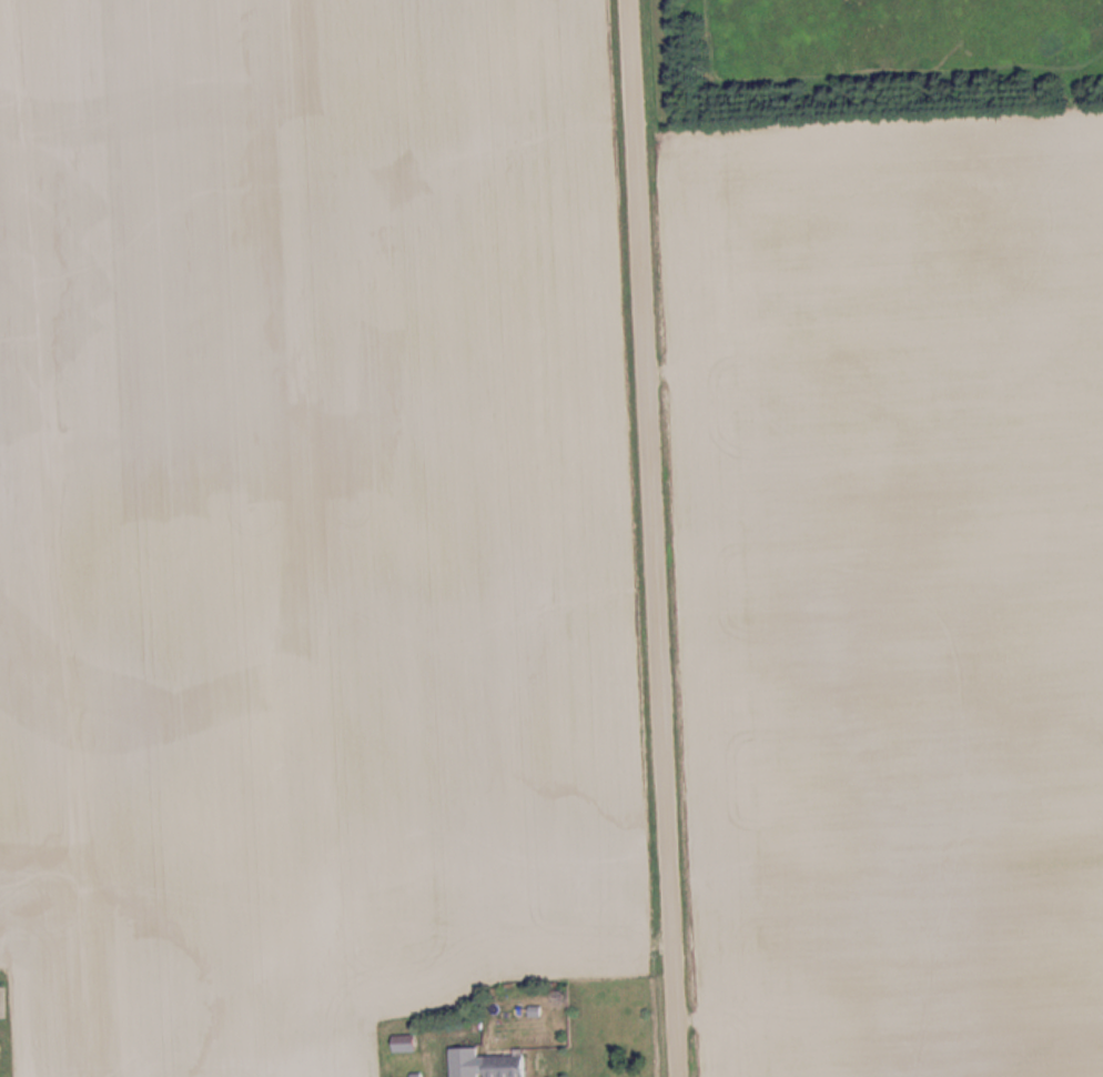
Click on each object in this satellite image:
road: (651, 538)
building: (407, 1043)
building: (510, 1066)
building: (331, 1076)

